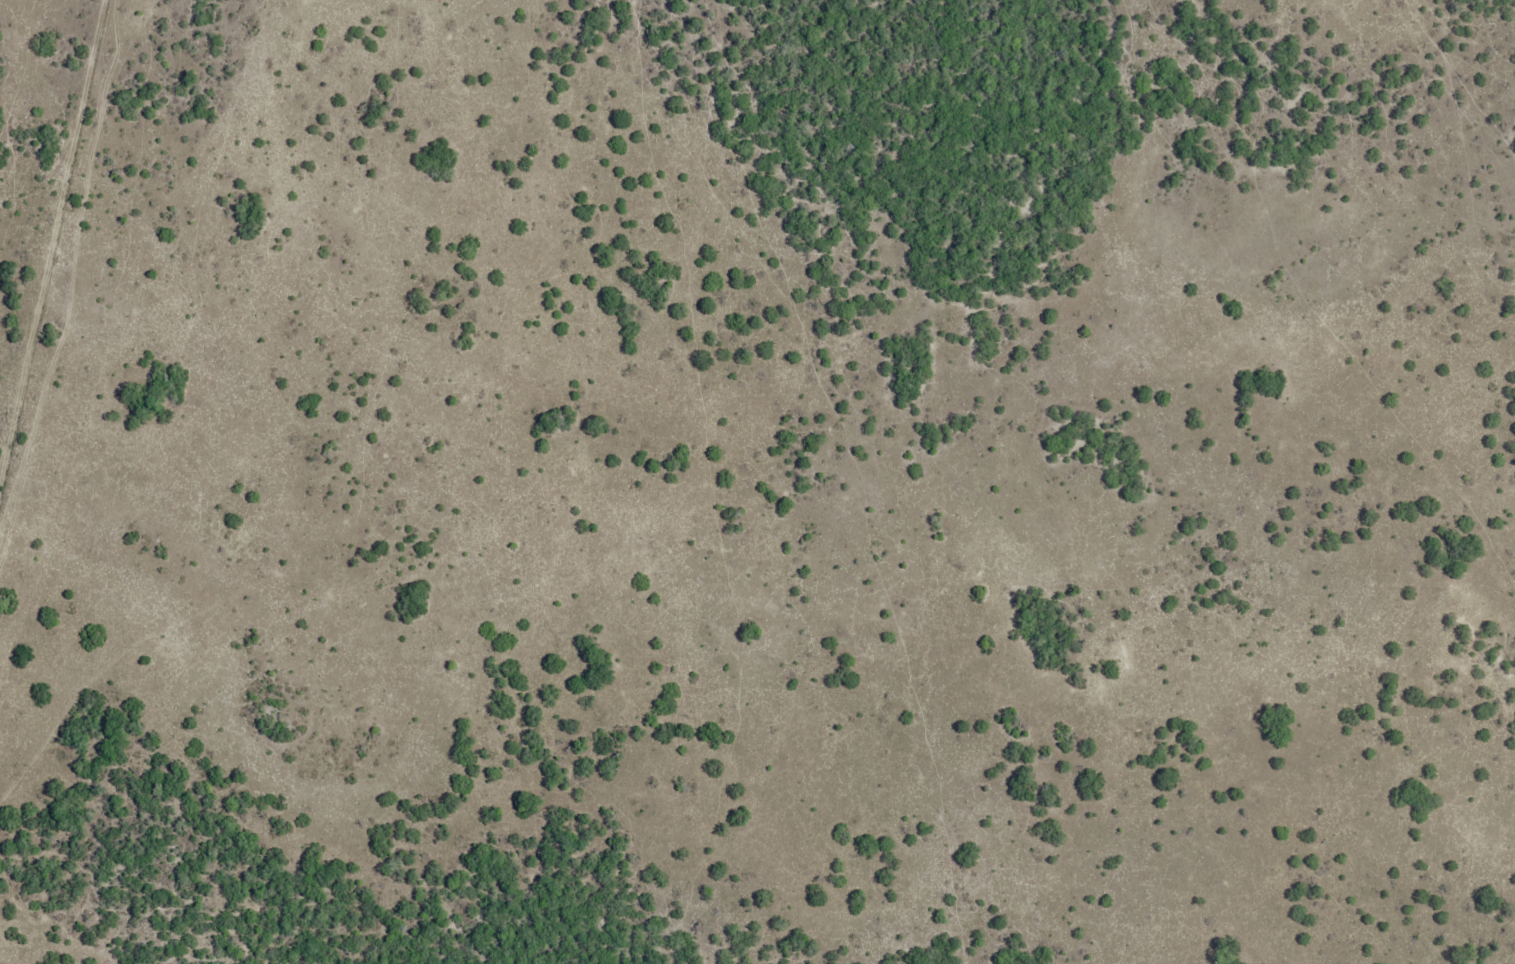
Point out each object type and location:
road: (58, 271)

